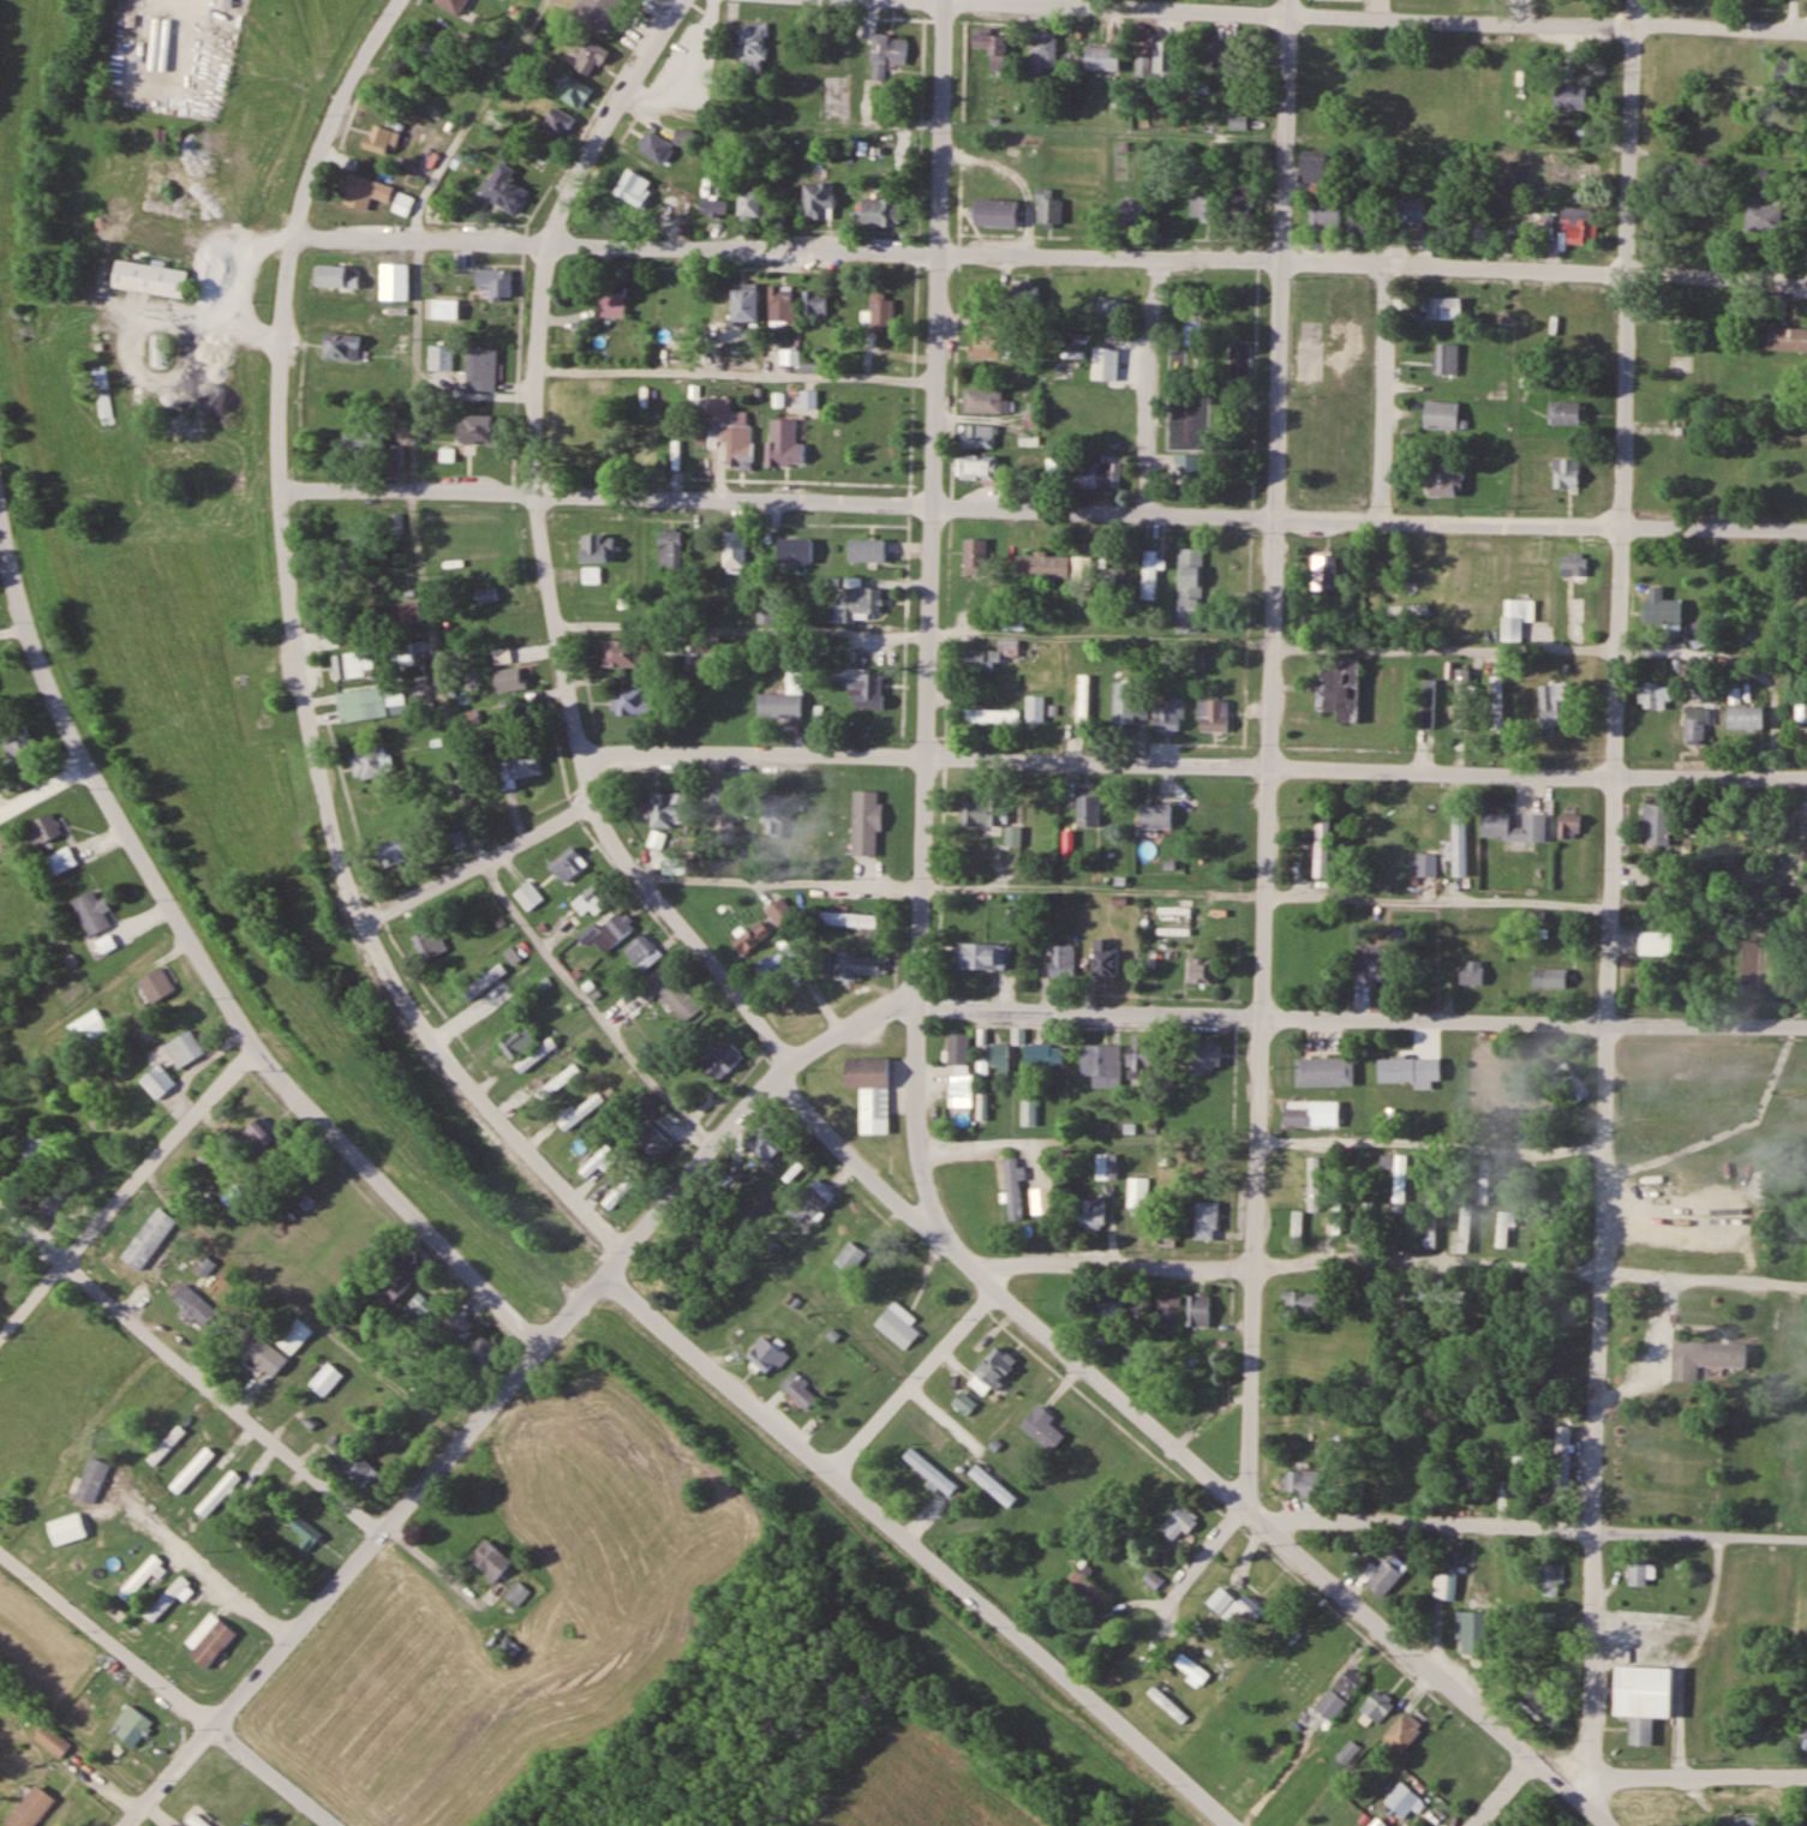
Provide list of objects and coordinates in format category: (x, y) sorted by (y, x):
building: (453, 5)
building: (596, 12)
road: (1375, 18)
building: (426, 46)
building: (991, 46)
building: (750, 47)
building: (1043, 49)
building: (886, 54)
building: (586, 56)
building: (1101, 58)
building: (1166, 58)
building: (1787, 74)
building: (574, 92)
building: (1570, 97)
building: (557, 122)
building: (1238, 122)
road: (1633, 136)
building: (683, 137)
building: (381, 139)
building: (654, 146)
building: (537, 156)
building: (1311, 167)
building: (1676, 182)
building: (503, 188)
building: (633, 190)
building: (361, 192)
building: (818, 200)
building: (402, 203)
building: (749, 203)
building: (1238, 203)
building: (712, 208)
building: (1048, 208)
building: (1203, 208)
building: (433, 210)
building: (994, 210)
building: (1132, 210)
building: (880, 212)
building: (1408, 212)
building: (1324, 217)
building: (1764, 218)
building: (1359, 224)
building: (1578, 224)
building: (1473, 233)
road: (616, 245)
road: (1372, 264)
building: (401, 270)
building: (334, 276)
building: (148, 277)
building: (492, 282)
building: (1024, 294)
building: (611, 300)
building: (744, 303)
building: (782, 304)
building: (815, 305)
building: (1109, 305)
building: (443, 309)
building: (1443, 309)
building: (881, 312)
building: (1192, 331)
building: (1787, 337)
building: (339, 346)
building: (986, 347)
building: (397, 348)
building: (438, 358)
building: (1446, 359)
building: (813, 363)
building: (1105, 364)
building: (475, 371)
building: (1061, 371)
park: (1268, 381)
road: (1145, 384)
road: (1384, 393)
building: (981, 399)
building: (1567, 413)
building: (717, 414)
building: (1441, 415)
building: (1190, 418)
building: (475, 429)
building: (976, 436)
building: (360, 443)
building: (782, 443)
building: (740, 447)
building: (584, 448)
building: (975, 467)
building: (1187, 467)
building: (1057, 473)
building: (1566, 473)
building: (1100, 474)
building: (1444, 479)
road: (605, 496)
road: (1369, 519)
building: (597, 547)
building: (734, 549)
building: (669, 550)
building: (866, 550)
building: (795, 551)
building: (974, 556)
building: (1039, 564)
building: (1573, 564)
building: (1119, 570)
building: (1323, 571)
building: (1149, 574)
building: (1189, 589)
building: (858, 601)
building: (1408, 607)
building: (401, 613)
building: (765, 617)
road: (928, 617)
building: (1516, 617)
building: (1695, 630)
building: (1010, 647)
building: (626, 652)
building: (979, 659)
road: (299, 663)
road: (564, 663)
building: (352, 665)
building: (510, 678)
building: (861, 686)
building: (1338, 689)
building: (1655, 696)
building: (1082, 698)
building: (1462, 698)
building: (783, 699)
building: (632, 700)
building: (369, 702)
building: (1125, 702)
building: (1428, 702)
building: (1554, 704)
building: (1496, 705)
building: (1034, 708)
building: (1800, 713)
building: (1211, 714)
building: (991, 716)
building: (1167, 716)
building: (1745, 717)
building: (1695, 723)
building: (17, 743)
road: (1269, 753)
road: (753, 755)
building: (371, 762)
building: (520, 767)
road: (1365, 768)
road: (46, 789)
building: (1087, 809)
building: (668, 812)
building: (981, 813)
building: (726, 815)
building: (772, 815)
building: (808, 815)
building: (1155, 816)
building: (866, 822)
building: (1568, 826)
building: (1657, 826)
building: (1513, 827)
building: (43, 828)
building: (1012, 836)
building: (1456, 836)
building: (1321, 846)
building: (396, 851)
building: (61, 860)
road: (480, 861)
building: (567, 864)
building: (1425, 864)
building: (528, 897)
building: (593, 898)
building: (91, 910)
building: (779, 911)
building: (845, 921)
building: (612, 932)
building: (750, 938)
building: (429, 944)
building: (1656, 944)
building: (790, 947)
building: (644, 951)
building: (981, 957)
building: (1061, 962)
building: (1105, 962)
building: (1374, 964)
building: (855, 966)
building: (774, 968)
road: (209, 969)
building: (1199, 971)
building: (1472, 974)
building: (1550, 978)
building: (486, 980)
building: (155, 984)
building: (681, 1000)
road: (591, 1008)
building: (511, 1012)
road: (1363, 1018)
building: (88, 1025)
road: (1605, 1029)
building: (517, 1041)
building: (184, 1047)
building: (958, 1050)
building: (535, 1054)
building: (998, 1055)
building: (1045, 1055)
building: (1138, 1056)
building: (1203, 1056)
building: (722, 1059)
building: (1099, 1064)
building: (1486, 1067)
building: (1408, 1068)
building: (1324, 1071)
building: (157, 1079)
building: (557, 1083)
building: (961, 1090)
building: (870, 1091)
building: (648, 1104)
building: (580, 1109)
building: (1311, 1113)
building: (265, 1134)
building: (7, 1136)
building: (652, 1140)
building: (764, 1143)
building: (36, 1144)
building: (598, 1161)
building: (1201, 1161)
building: (1106, 1166)
building: (1398, 1173)
building: (1484, 1180)
building: (1314, 1183)
road: (128, 1187)
building: (1015, 1187)
building: (618, 1191)
building: (1138, 1192)
building: (814, 1196)
building: (53, 1203)
building: (1093, 1213)
building: (1207, 1219)
building: (1297, 1226)
building: (1429, 1226)
building: (1464, 1228)
building: (1502, 1228)
building: (120, 1256)
building: (849, 1256)
road: (959, 1256)
road: (1392, 1262)
building: (205, 1265)
building: (393, 1280)
building: (1305, 1301)
building: (192, 1304)
building: (1111, 1305)
building: (425, 1306)
building: (1168, 1310)
building: (1198, 1310)
building: (457, 1323)
building: (896, 1327)
building: (294, 1335)
building: (483, 1349)
building: (766, 1353)
building: (1704, 1355)
road: (191, 1367)
building: (991, 1370)
building: (325, 1378)
road: (911, 1381)
road: (507, 1389)
building: (798, 1389)
building: (1041, 1425)
building: (1561, 1456)
building: (357, 1467)
building: (1477, 1468)
building: (929, 1471)
building: (1518, 1472)
building: (97, 1479)
building: (1300, 1481)
building: (992, 1485)
building: (1177, 1523)
building: (73, 1527)
road: (1537, 1528)
building: (304, 1531)
road: (917, 1550)
road: (1294, 1552)
building: (490, 1558)
road: (1203, 1559)
building: (1637, 1570)
road: (214, 1571)
building: (1384, 1573)
building: (1151, 1579)
building: (1551, 1579)
building: (1446, 1580)
building: (1087, 1591)
building: (517, 1593)
building: (1237, 1608)
building: (1472, 1633)
building: (502, 1645)
building: (1191, 1668)
road: (172, 1688)
building: (1339, 1693)
building: (1643, 1695)
building: (1166, 1704)
building: (1377, 1705)
building: (1544, 1705)
building: (133, 1725)
building: (1400, 1734)
building: (1803, 1734)
building: (50, 1738)
road: (1159, 1747)
road: (1695, 1778)
road: (1579, 1788)
road: (1502, 1791)
building: (1402, 1798)
building: (31, 1808)
building: (197, 1819)
building: (1745, 1820)
building: (1377, 1822)

